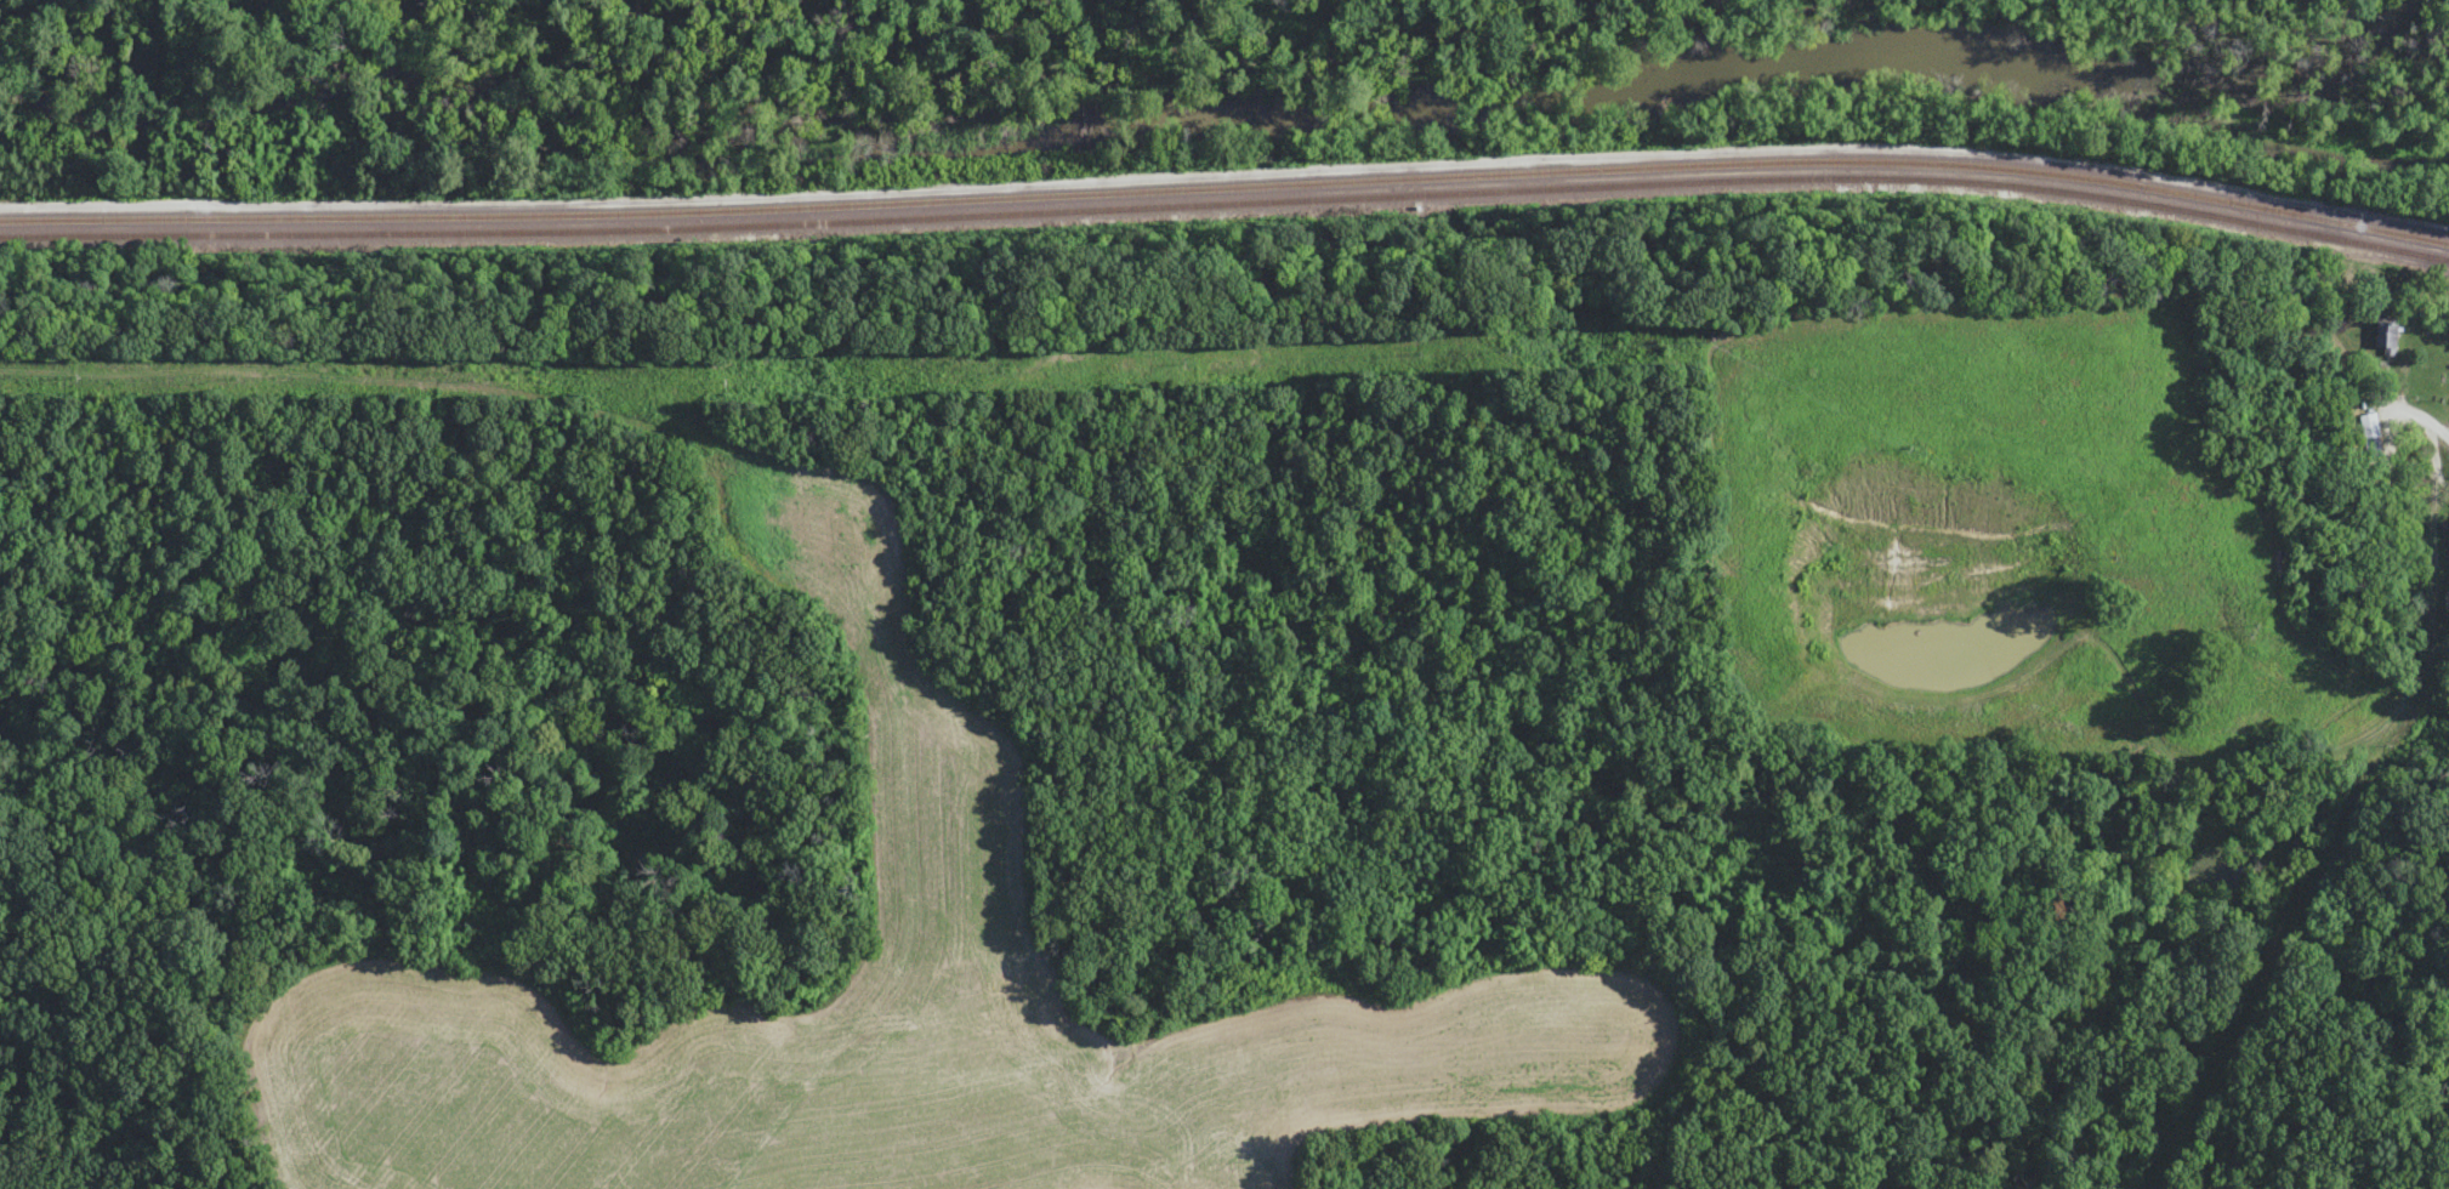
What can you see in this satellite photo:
railway: (1228, 186)
railway: (1228, 203)
building: (2382, 336)
road: (2422, 416)
building: (2366, 426)

